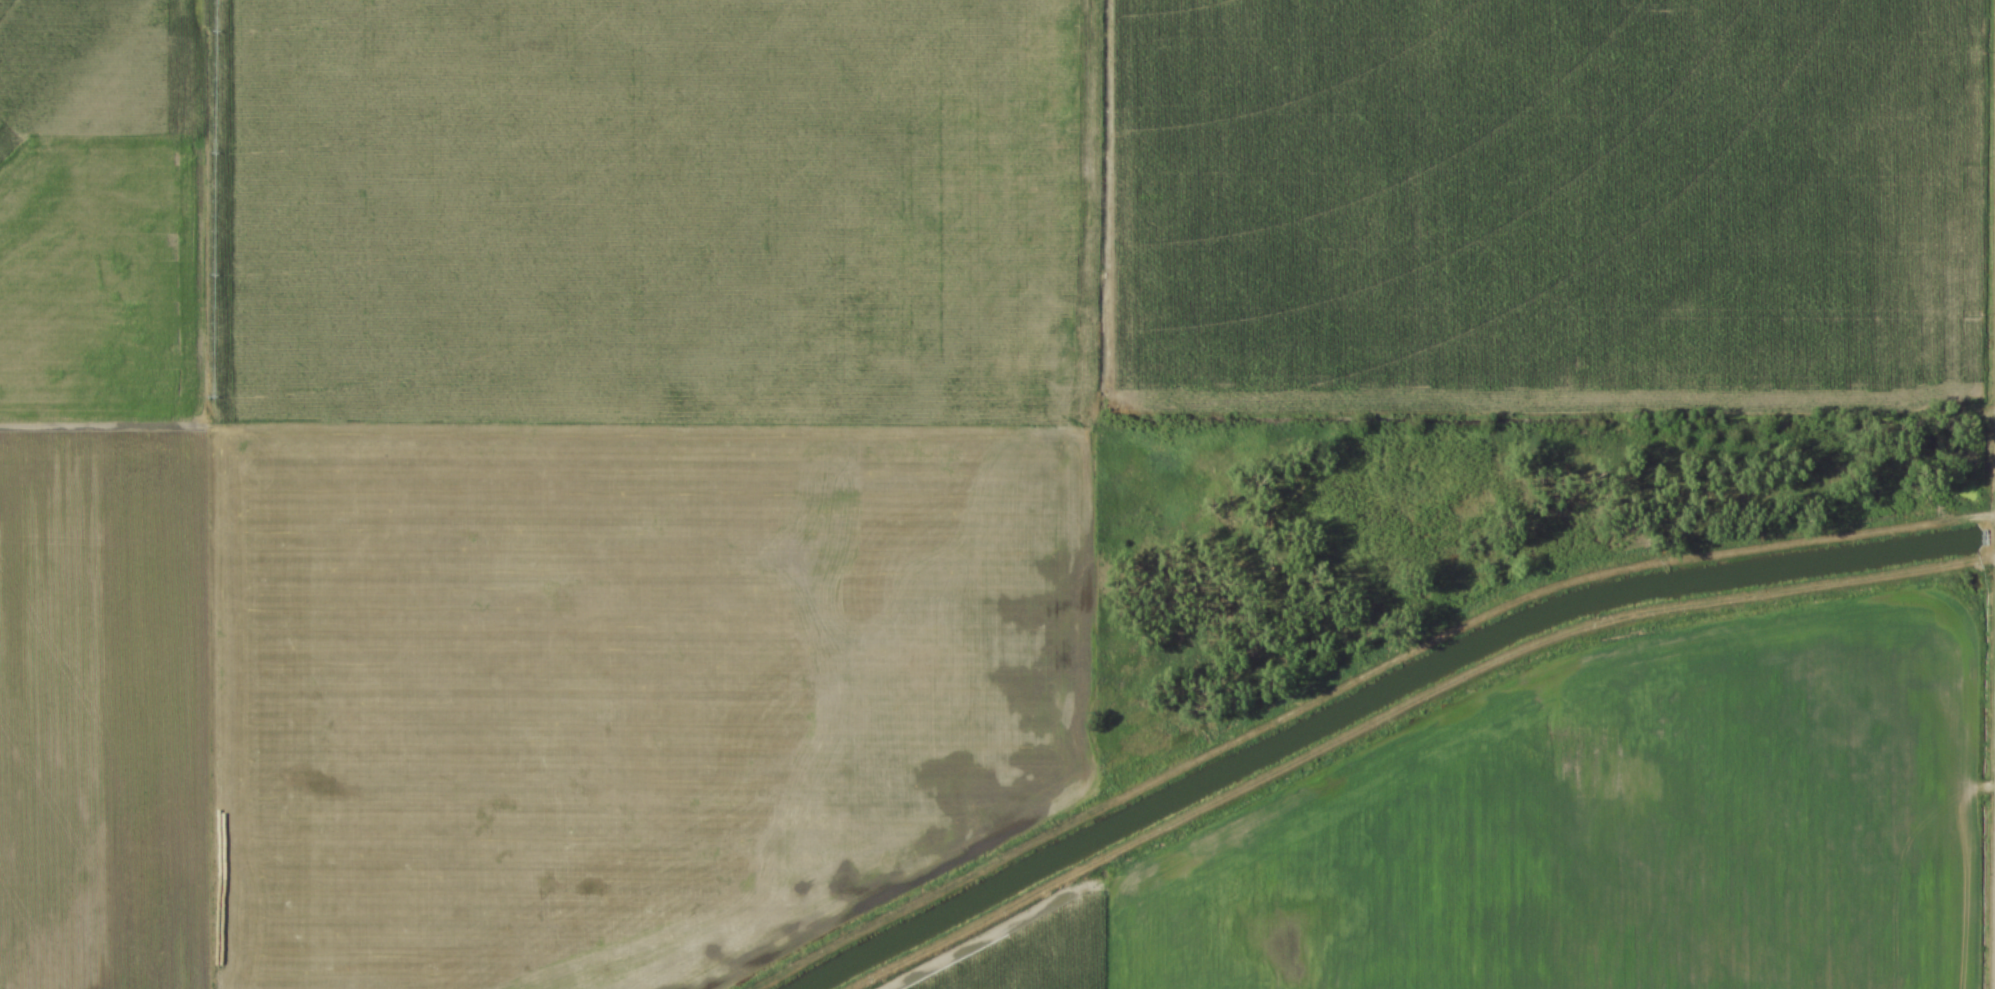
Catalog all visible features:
crop: (788, 405)
crop: (1596, 836)

